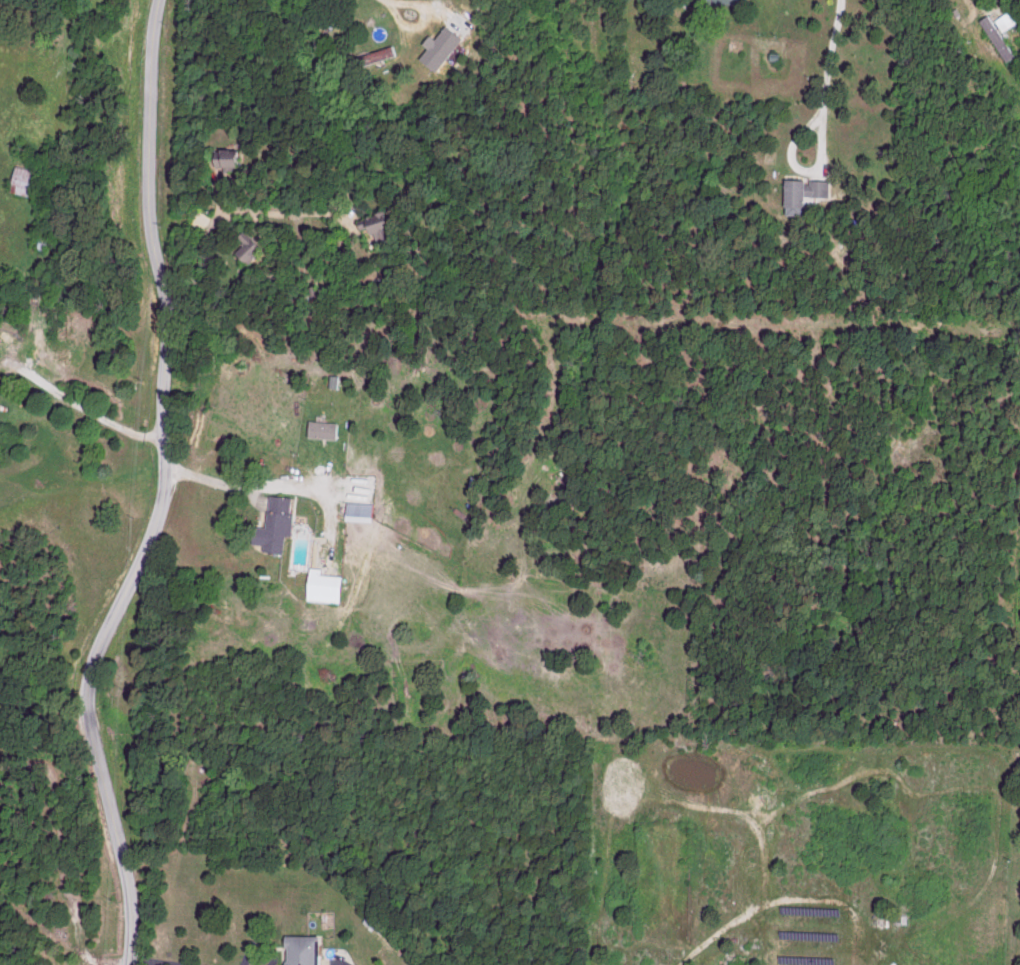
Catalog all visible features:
road: (385, 1)
road: (416, 25)
building: (994, 36)
building: (434, 47)
building: (370, 55)
road: (822, 84)
building: (221, 158)
building: (799, 192)
building: (244, 248)
road: (200, 250)
road: (78, 402)
building: (325, 428)
road: (214, 485)
road: (159, 492)
building: (363, 510)
building: (279, 522)
building: (327, 584)
building: (376, 921)
road: (147, 963)

